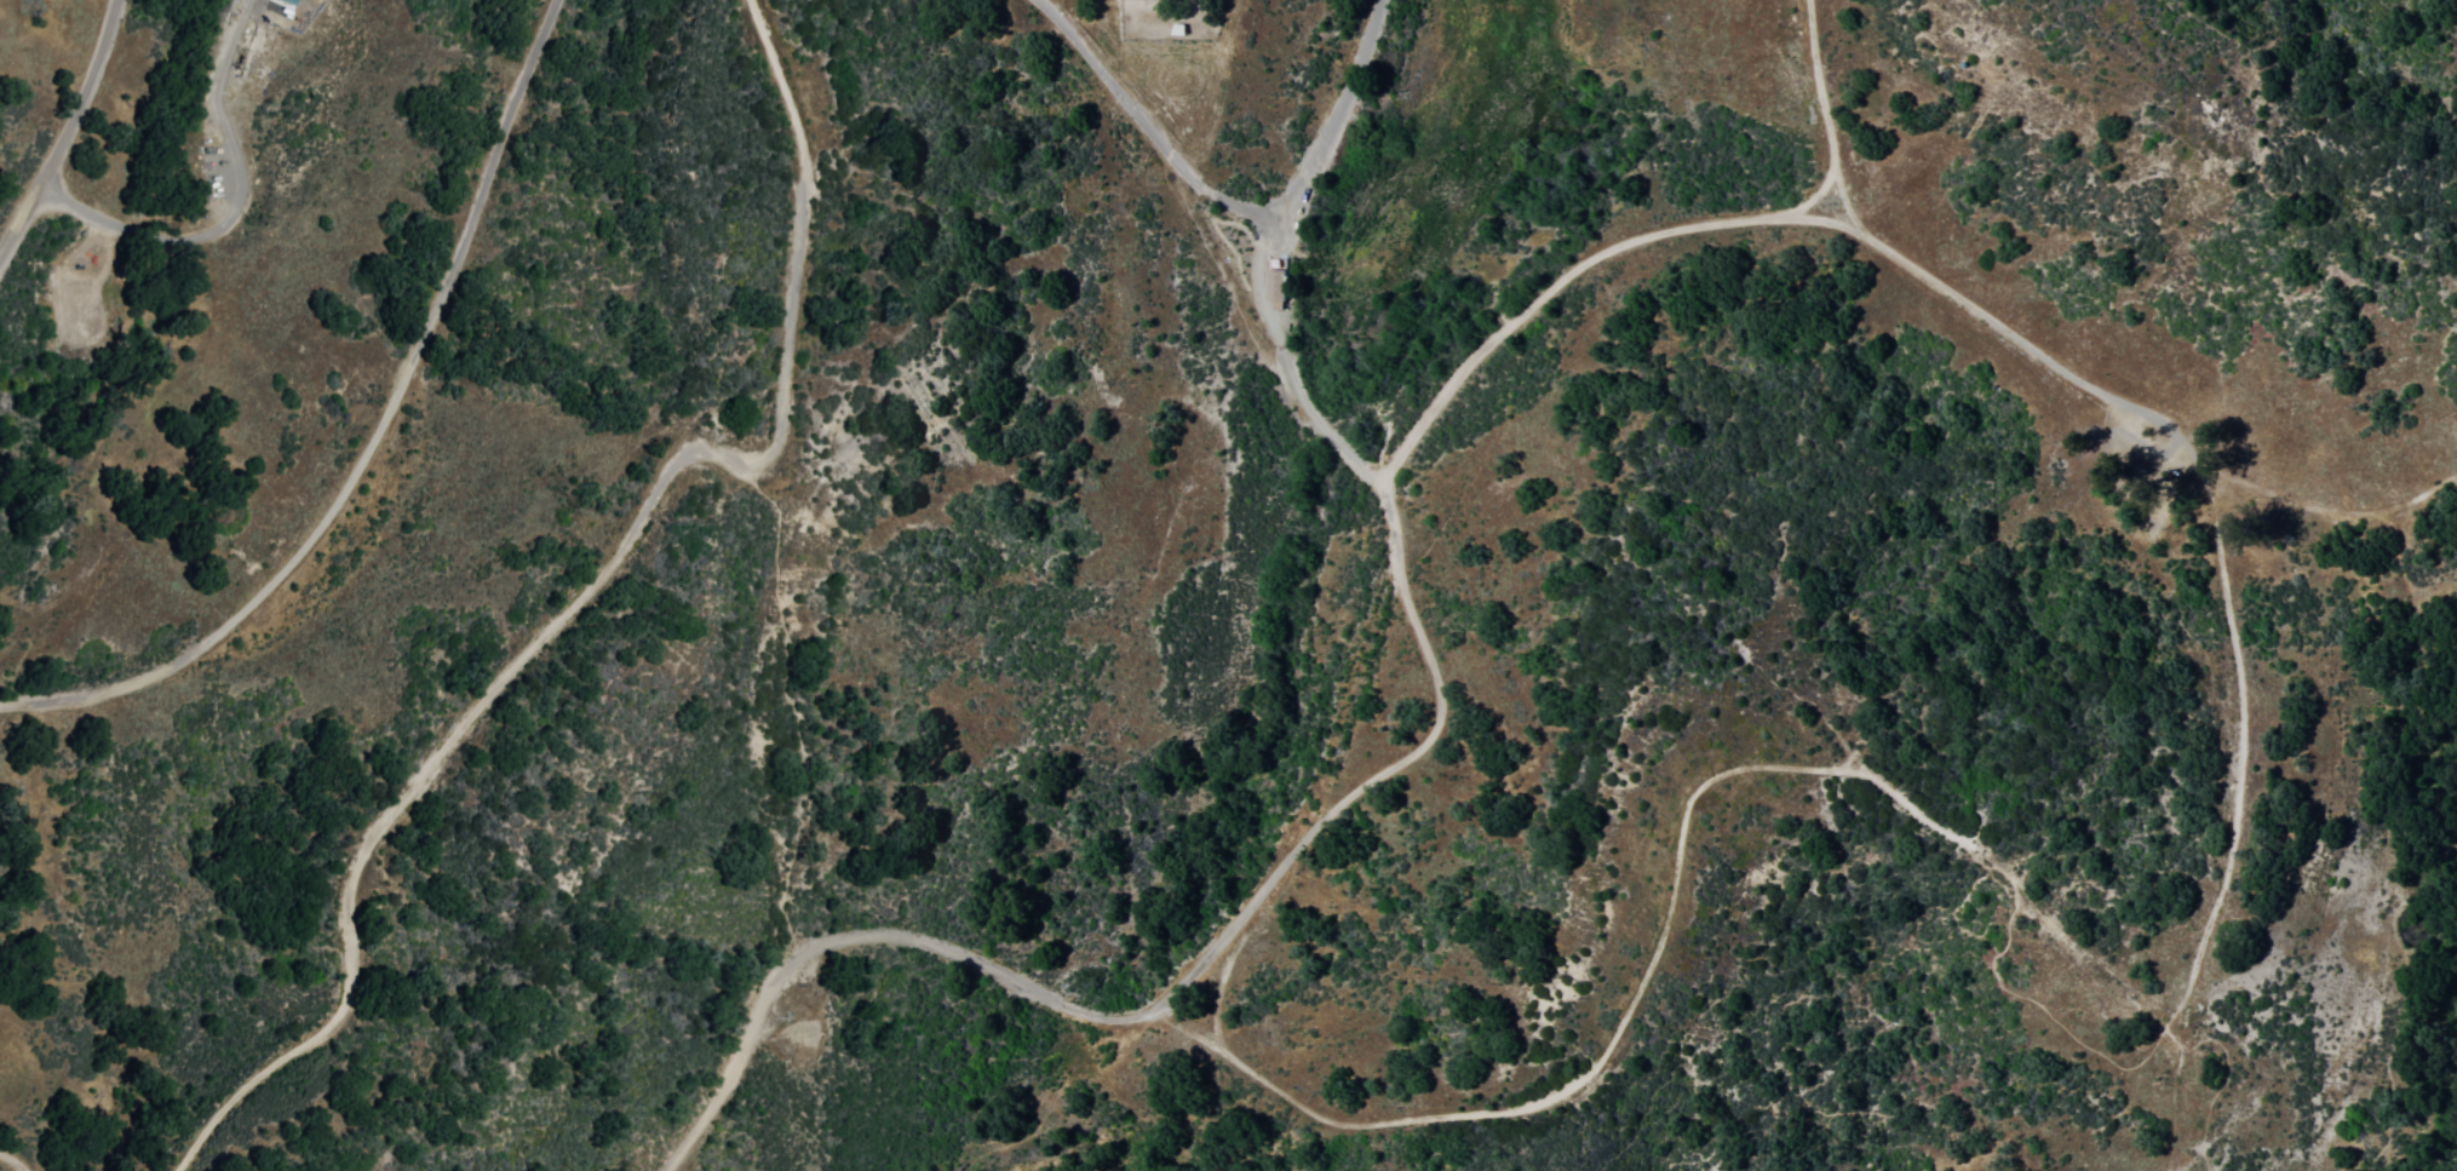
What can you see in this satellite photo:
road: (81, 98)
road: (1810, 116)
road: (1149, 121)
road: (234, 208)
road: (18, 226)
road: (1259, 248)
building: (1271, 287)
road: (2080, 372)
road: (356, 434)
road: (579, 596)
road: (797, 704)
road: (1684, 814)
road: (1156, 1010)
road: (16, 1156)

